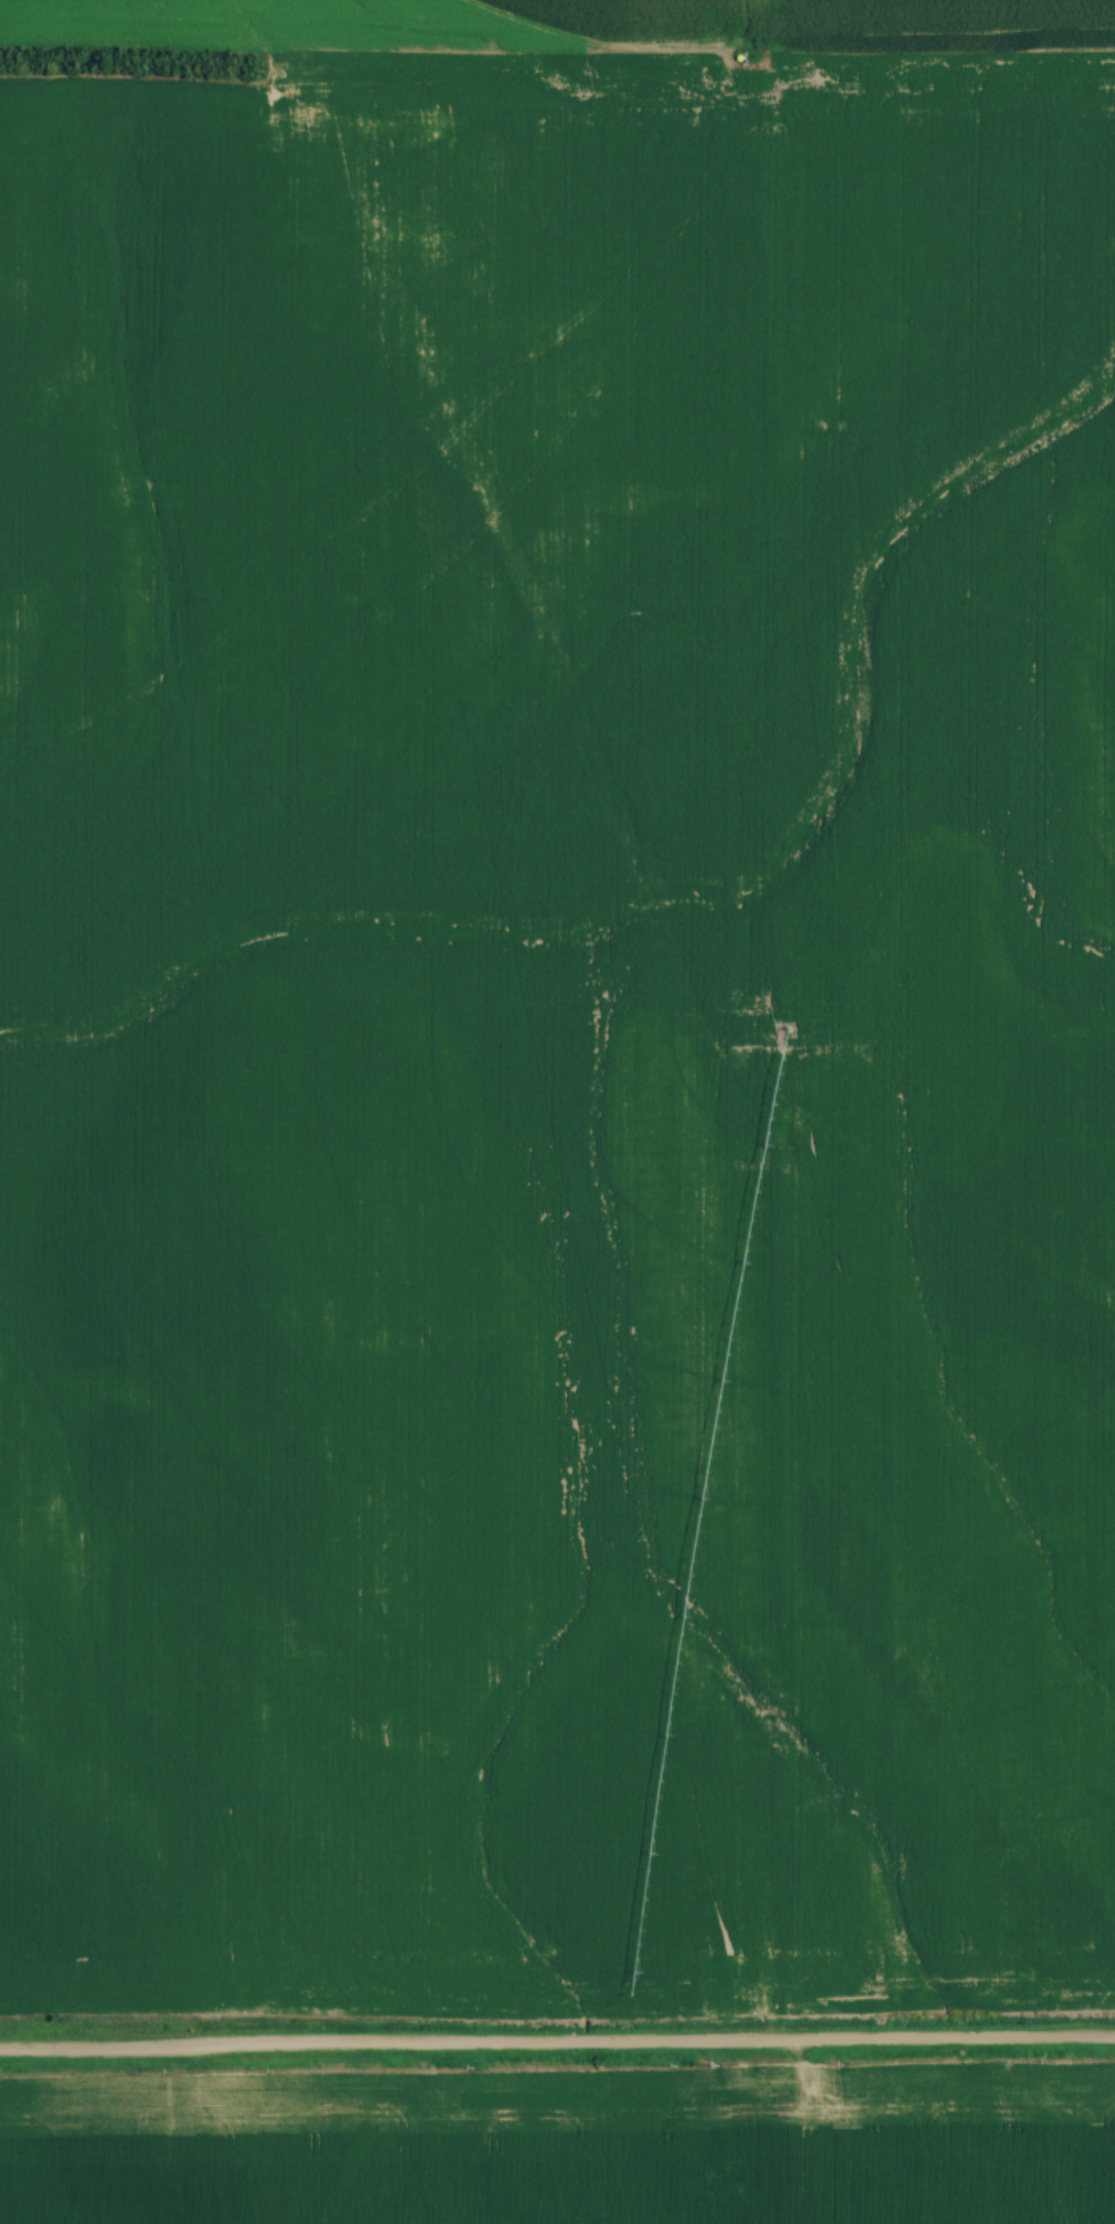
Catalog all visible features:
road: (557, 2049)

